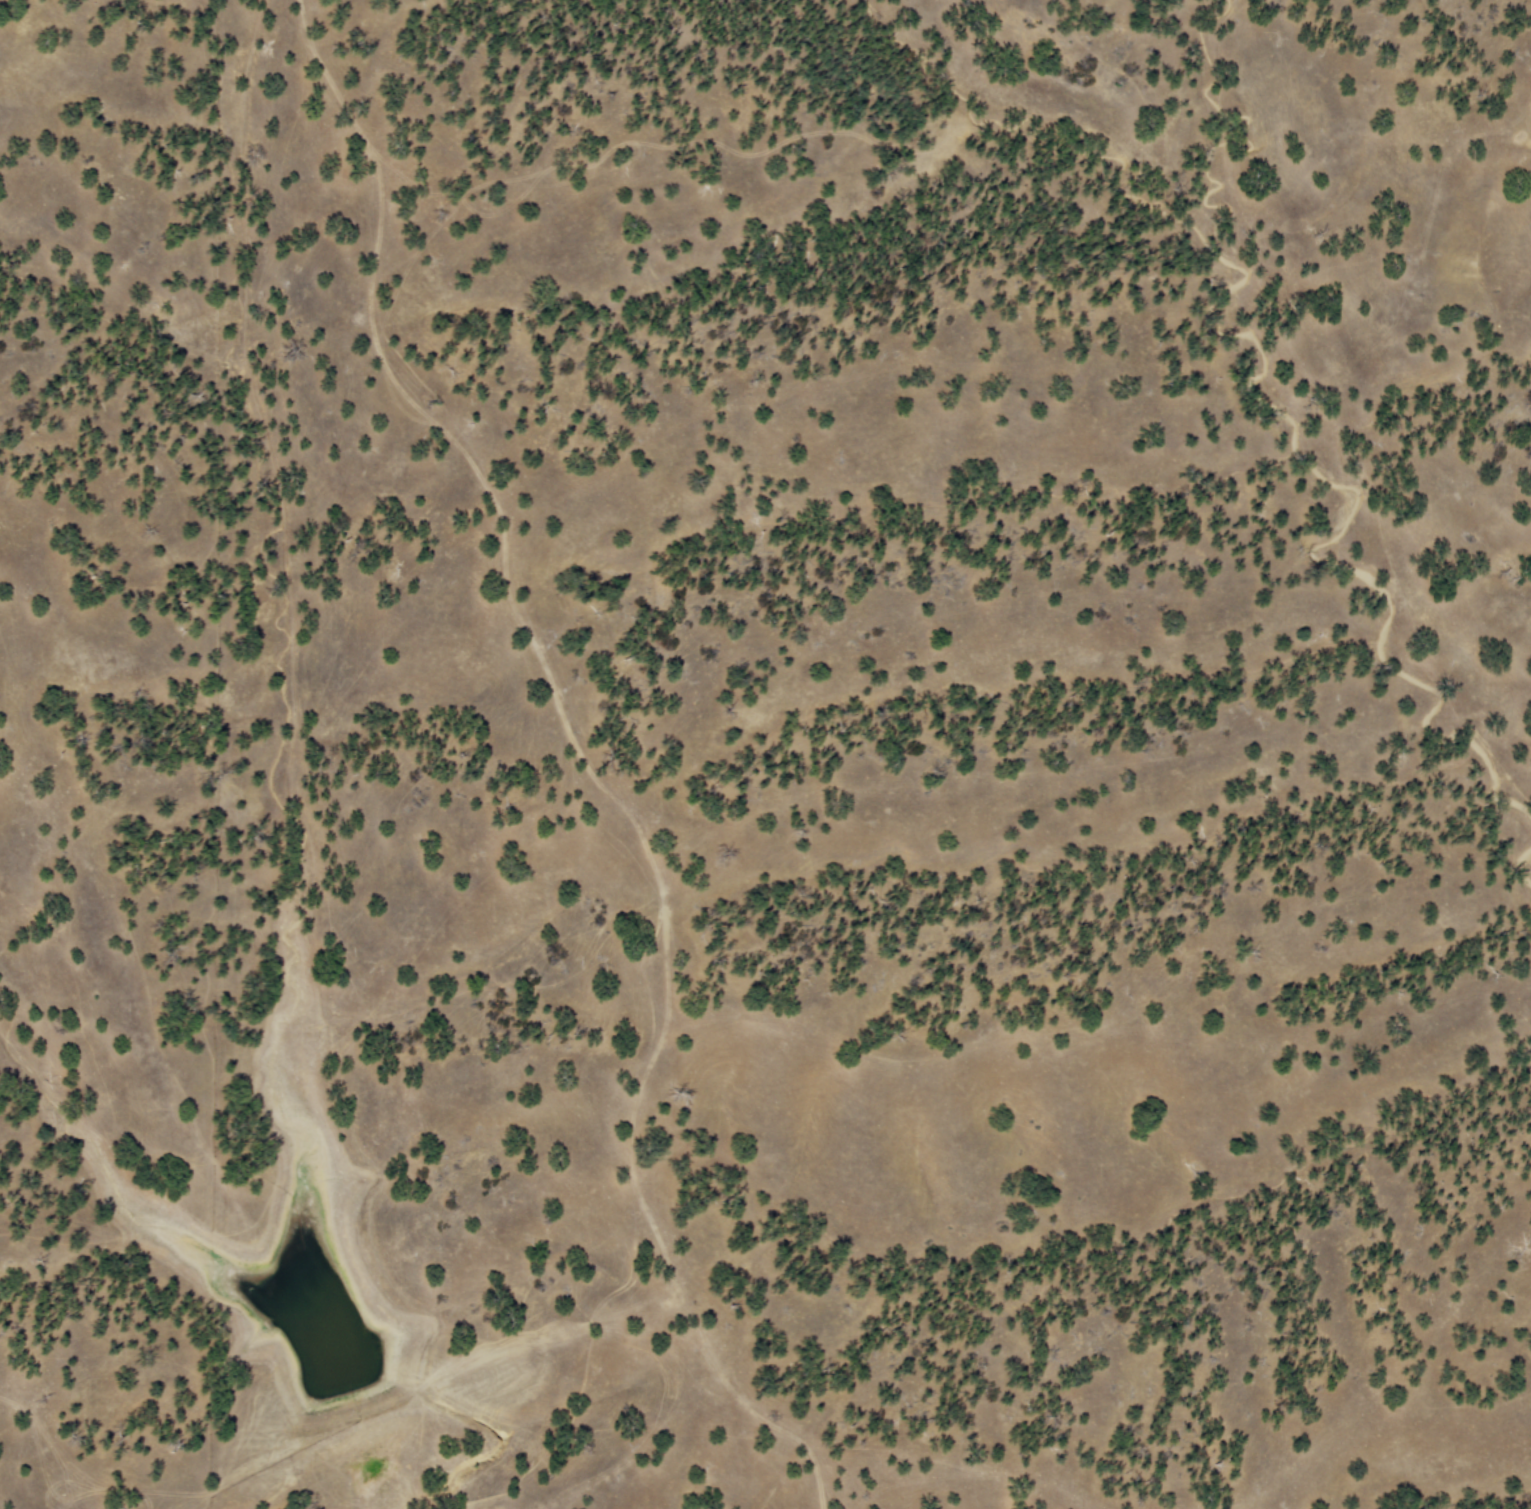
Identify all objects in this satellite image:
road: (477, 472)
dam: (350, 1406)
road: (138, 1492)

